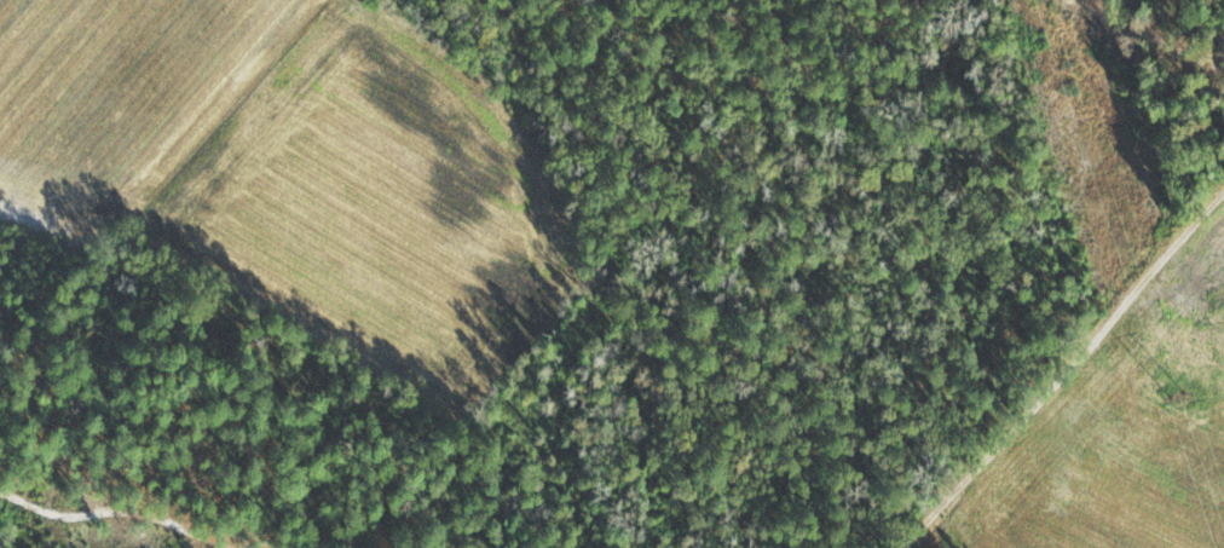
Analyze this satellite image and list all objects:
road: (1056, 381)
power tower: (1177, 394)

